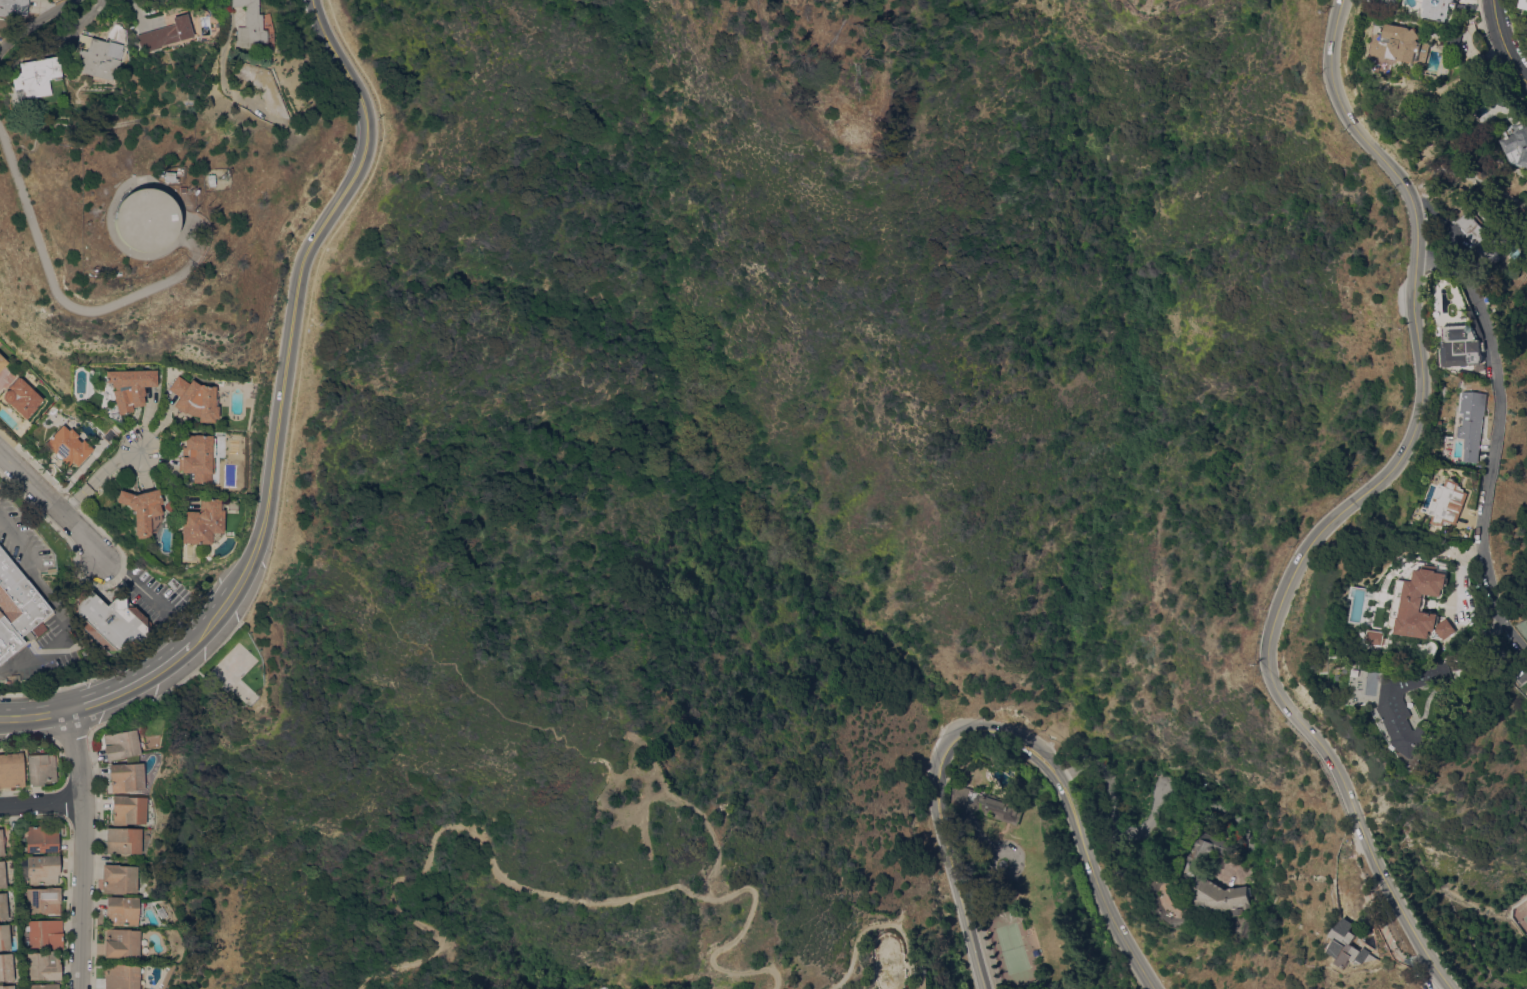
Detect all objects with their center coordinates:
building: (1523, 4)
building: (13, 7)
building: (1443, 8)
road: (31, 22)
building: (252, 26)
building: (163, 34)
road: (222, 37)
road: (1507, 40)
building: (1458, 41)
building: (1406, 44)
building: (95, 56)
building: (35, 76)
building: (259, 86)
building: (1519, 142)
building: (165, 176)
building: (139, 219)
building: (1482, 239)
road: (298, 287)
road: (63, 301)
building: (1469, 346)
building: (2, 361)
building: (130, 386)
building: (0, 387)
building: (22, 397)
building: (195, 399)
road: (1507, 404)
building: (1481, 423)
building: (68, 446)
building: (196, 457)
road: (102, 469)
road: (55, 503)
building: (1459, 503)
road: (1358, 504)
building: (141, 508)
building: (200, 522)
road: (135, 581)
road: (44, 591)
building: (1434, 605)
building: (18, 607)
road: (1513, 615)
road: (210, 620)
building: (109, 621)
building: (1393, 637)
road: (174, 659)
road: (447, 661)
road: (27, 662)
building: (15, 677)
road: (115, 696)
building: (1423, 705)
road: (34, 715)
road: (1001, 731)
building: (119, 744)
building: (40, 768)
building: (11, 769)
building: (124, 775)
road: (615, 775)
building: (988, 804)
road: (39, 807)
building: (126, 809)
road: (642, 811)
road: (1150, 811)
road: (707, 817)
building: (40, 839)
building: (121, 839)
building: (1, 843)
road: (77, 851)
building: (1199, 868)
building: (38, 869)
building: (2, 874)
building: (117, 878)
road: (542, 891)
building: (41, 900)
building: (6, 904)
building: (120, 910)
building: (1241, 911)
road: (877, 925)
building: (43, 933)
building: (4, 936)
building: (119, 942)
building: (1360, 945)
building: (41, 965)
building: (6, 966)
building: (118, 976)
building: (923, 982)
building: (6, 986)
building: (42, 986)

